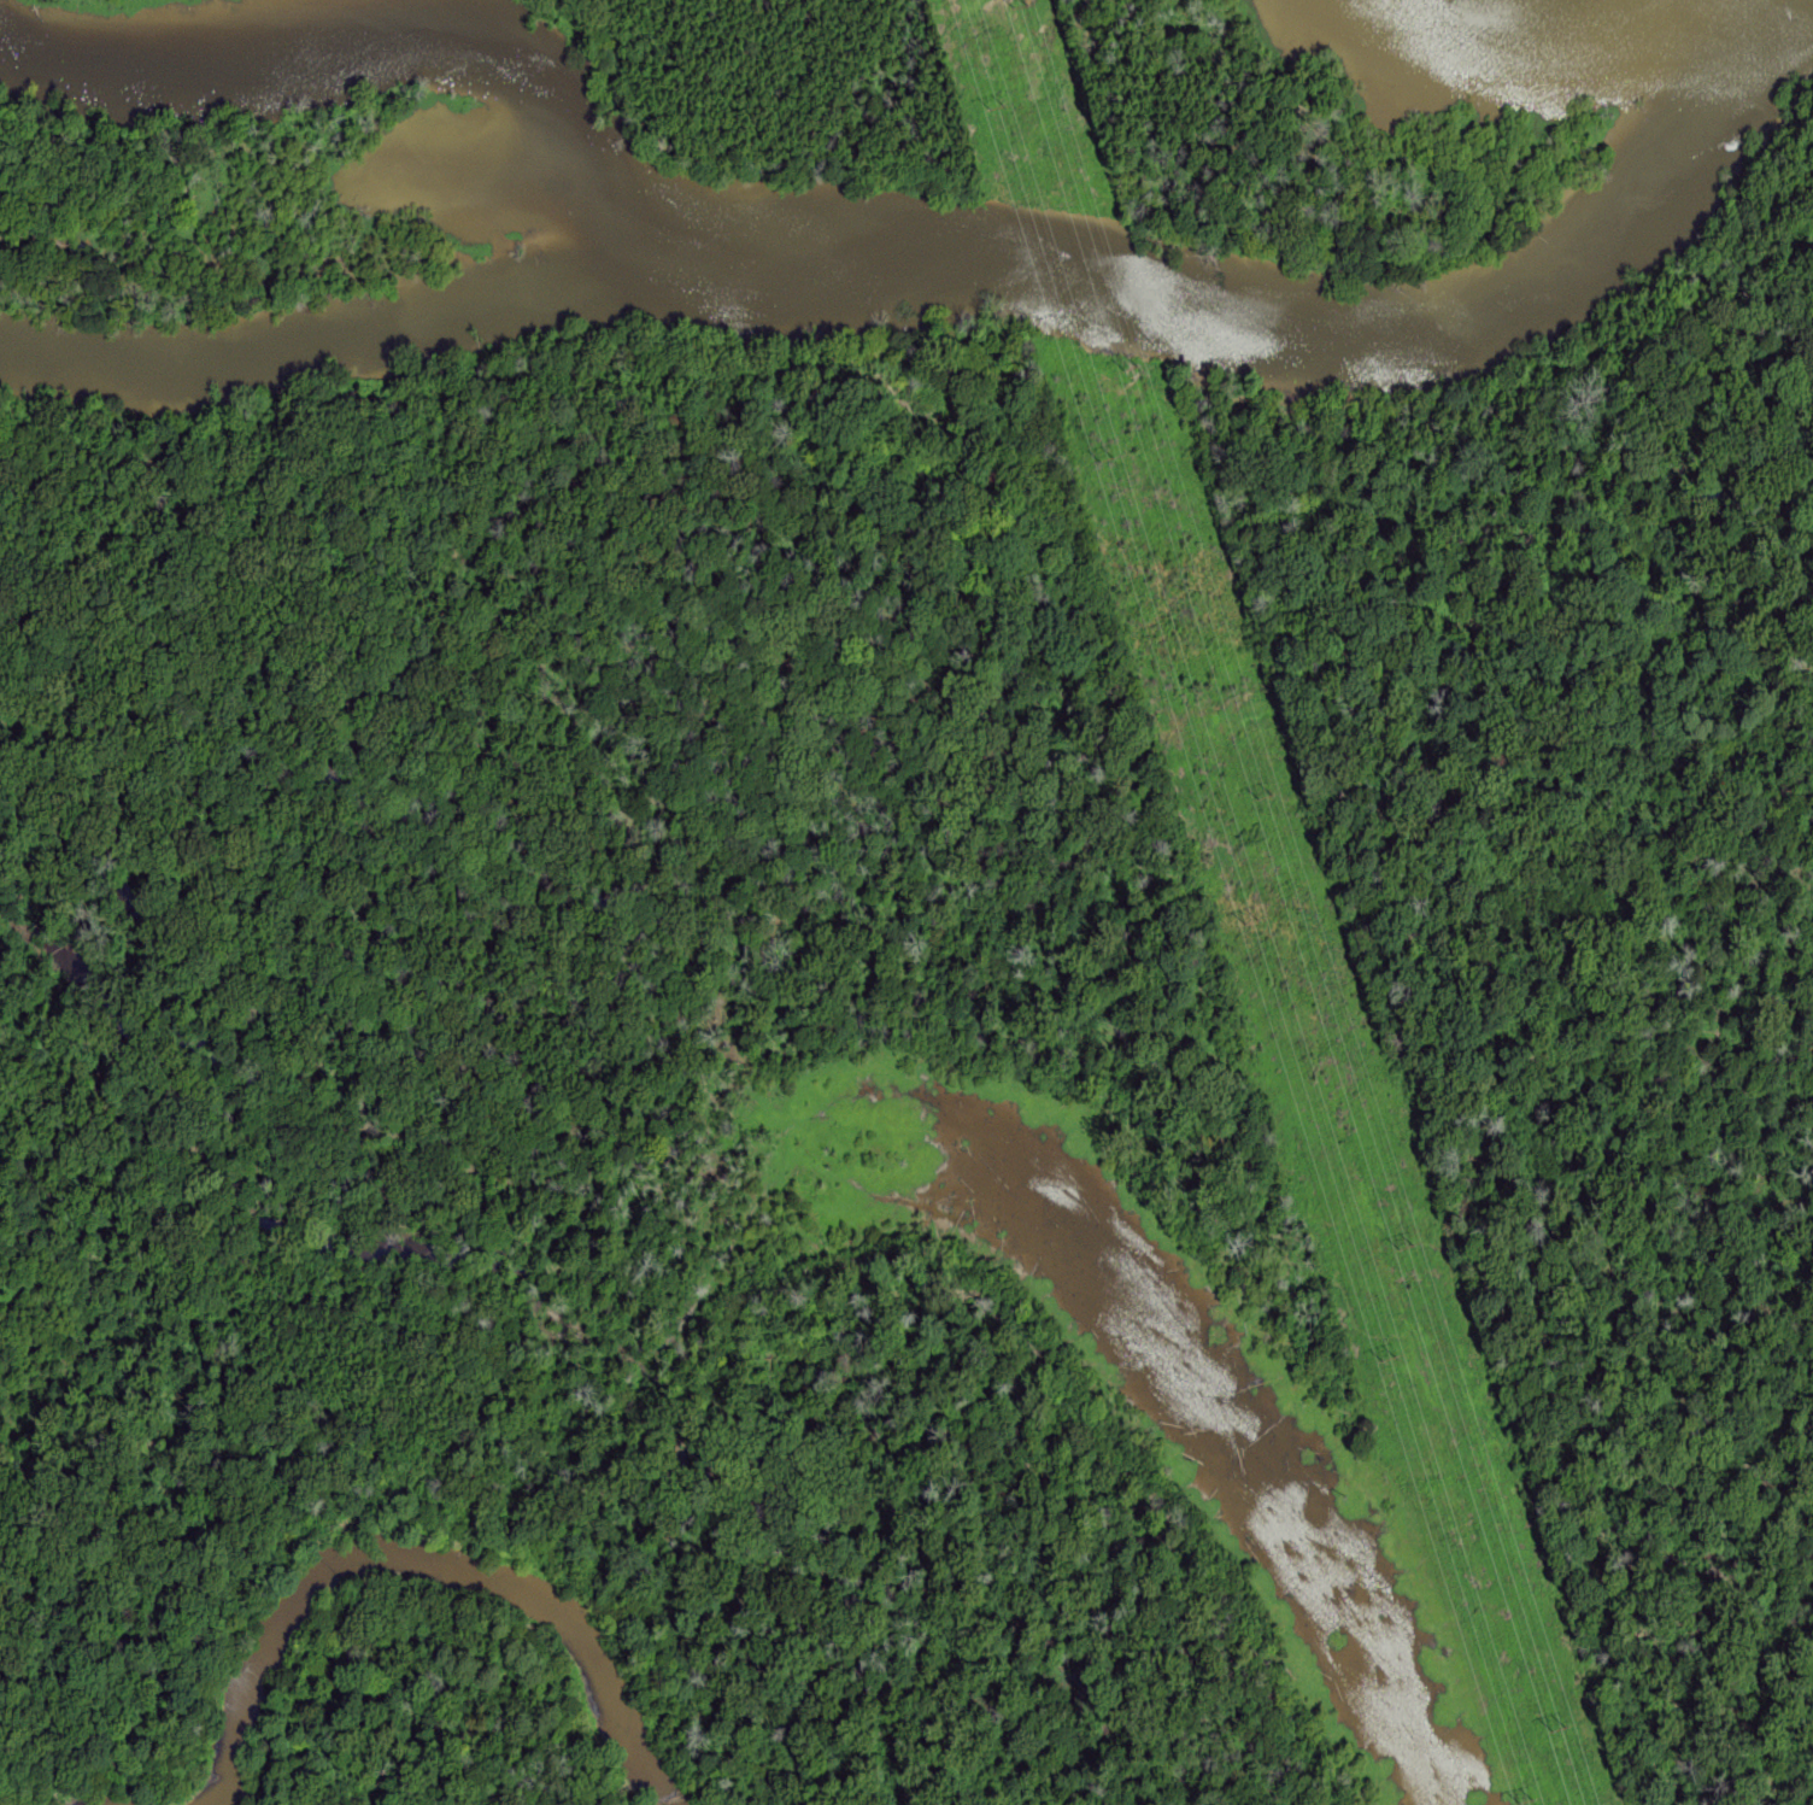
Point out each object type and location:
power tower: (1027, 17)
river: (392, 65)
power tower: (999, 118)
river: (1324, 304)
river: (364, 332)
power tower: (1131, 375)
power tower: (1108, 461)
power tower: (1263, 793)
power tower: (1244, 913)
power tower: (1416, 1247)
power tower: (1397, 1360)
power tower: (1571, 1731)
power tower: (1536, 1801)

